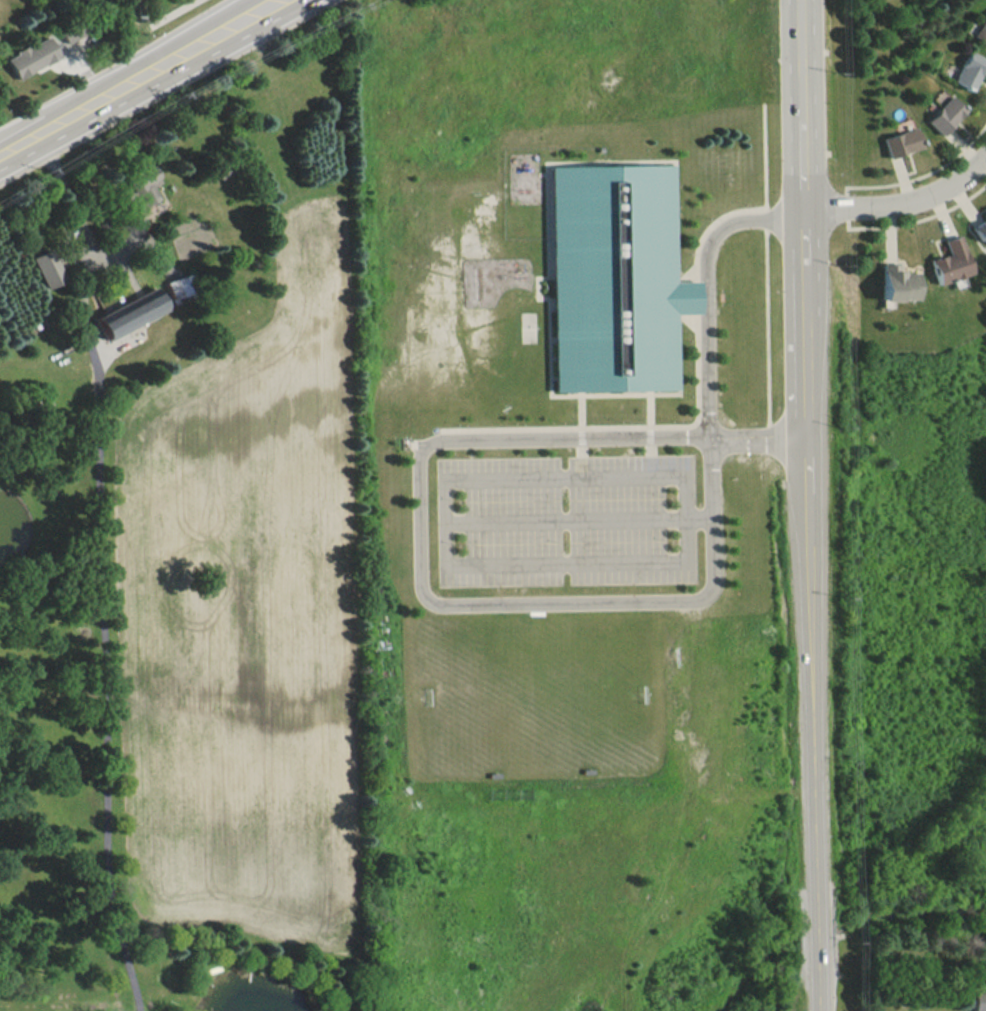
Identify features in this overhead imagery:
road: (169, 11)
building: (71, 27)
building: (981, 31)
road: (805, 47)
building: (32, 56)
building: (968, 69)
road: (129, 74)
building: (944, 114)
building: (899, 141)
road: (806, 152)
building: (141, 186)
road: (73, 201)
road: (902, 202)
building: (981, 228)
road: (110, 252)
building: (950, 261)
building: (48, 265)
building: (615, 282)
building: (897, 283)
building: (178, 286)
road: (709, 293)
building: (129, 303)
road: (807, 327)
road: (760, 445)
road: (584, 526)
parking lot: (571, 527)
road: (454, 534)
road: (433, 604)
crop: (247, 624)
road: (103, 627)
road: (811, 728)
building: (979, 999)

